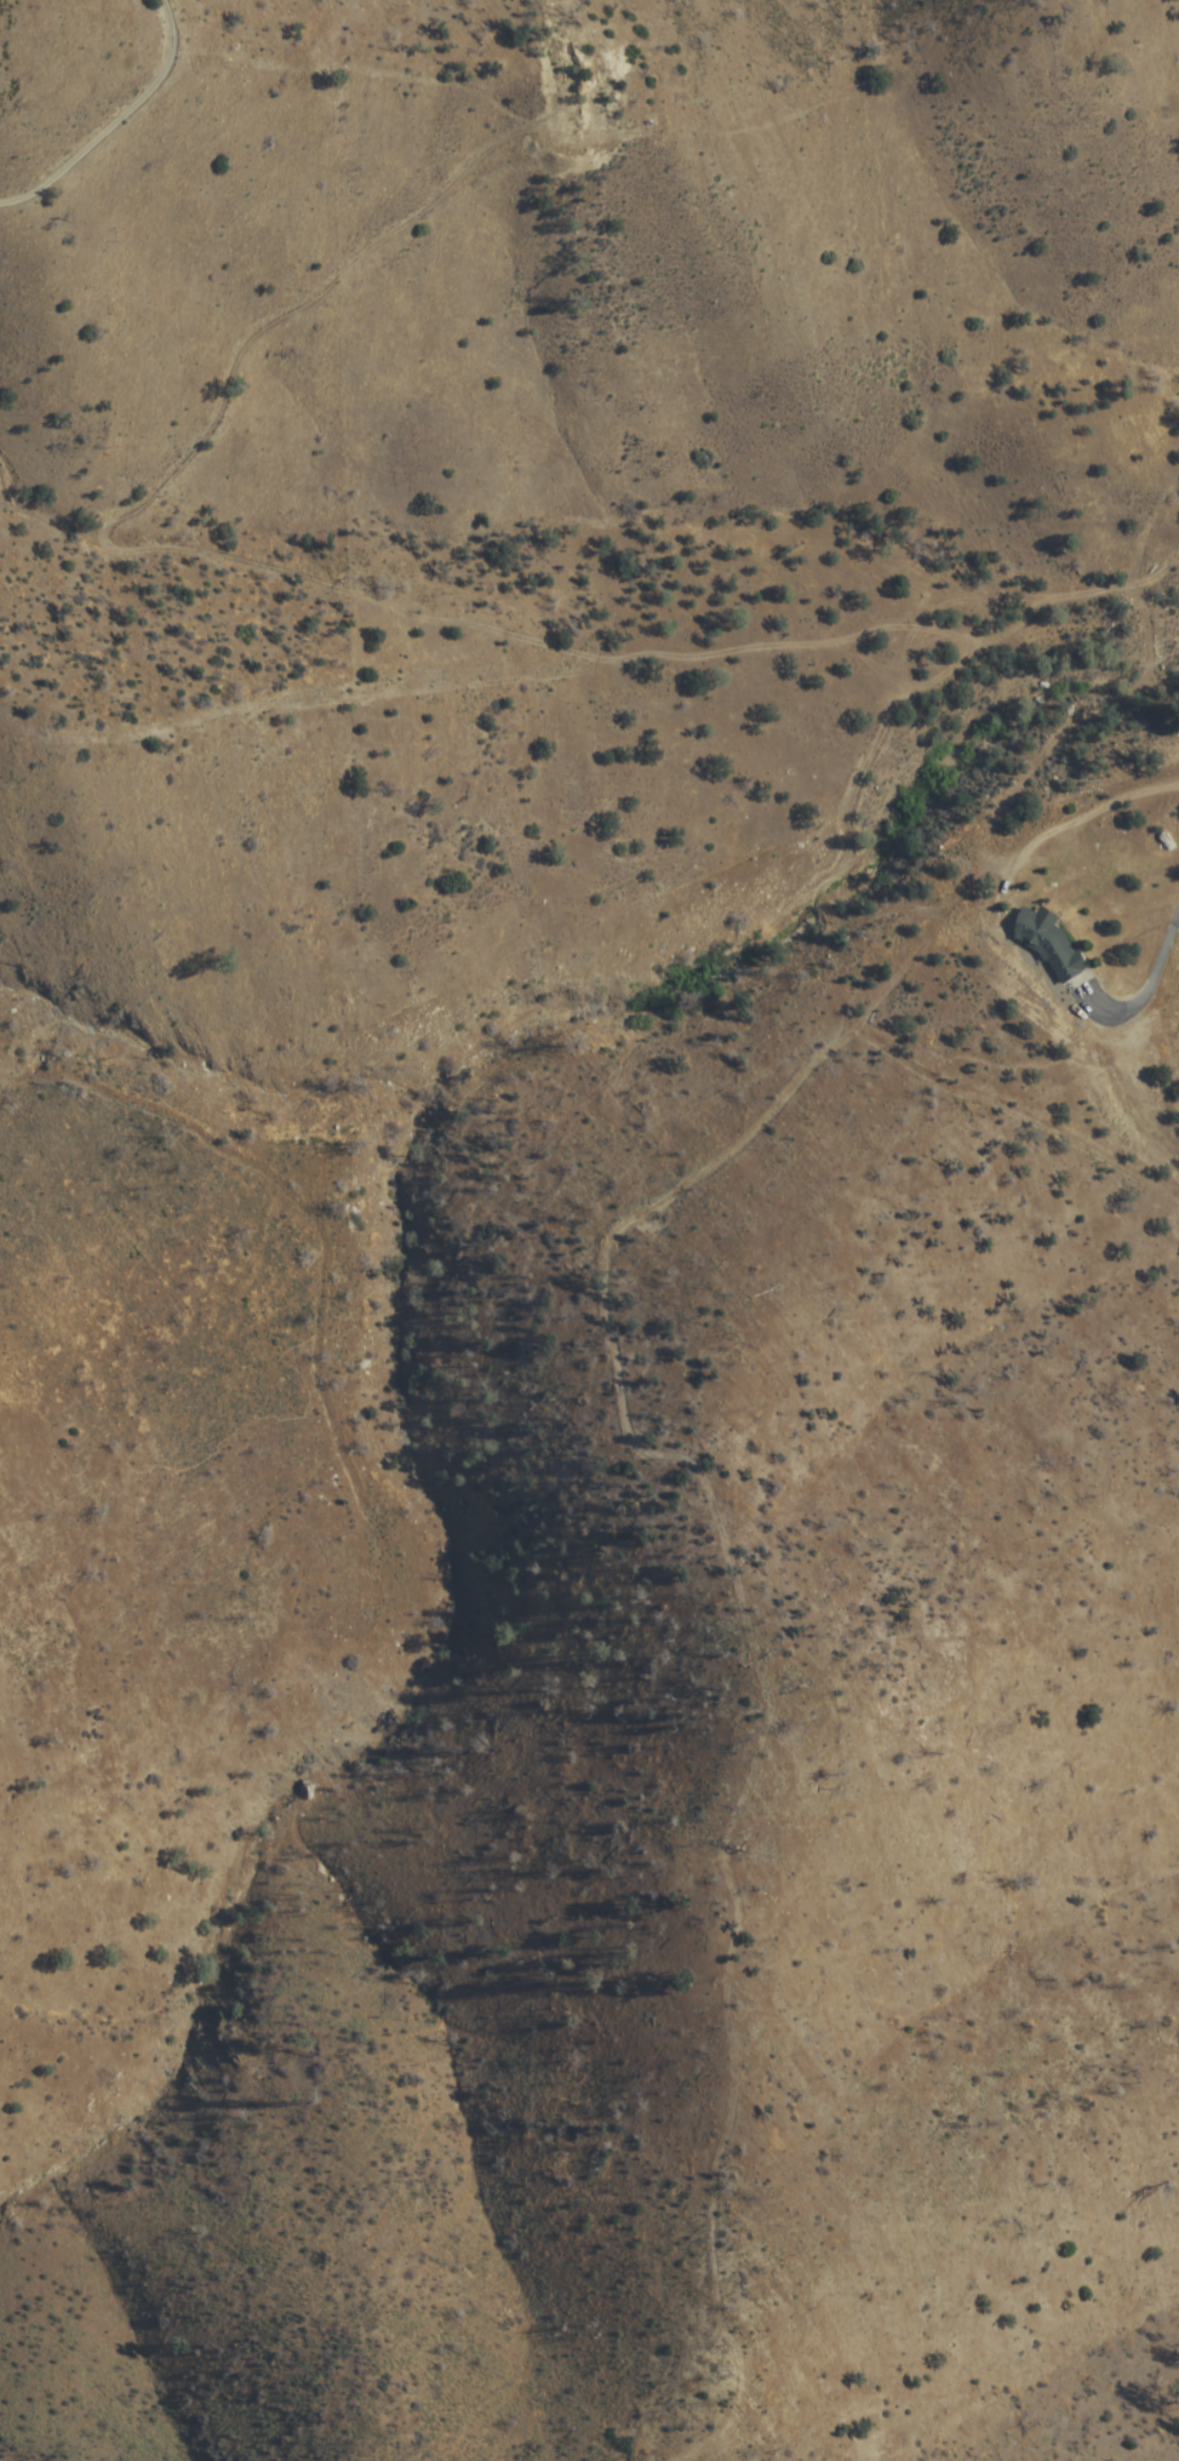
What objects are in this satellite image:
road: (121, 127)
road: (576, 657)
building: (1049, 945)

